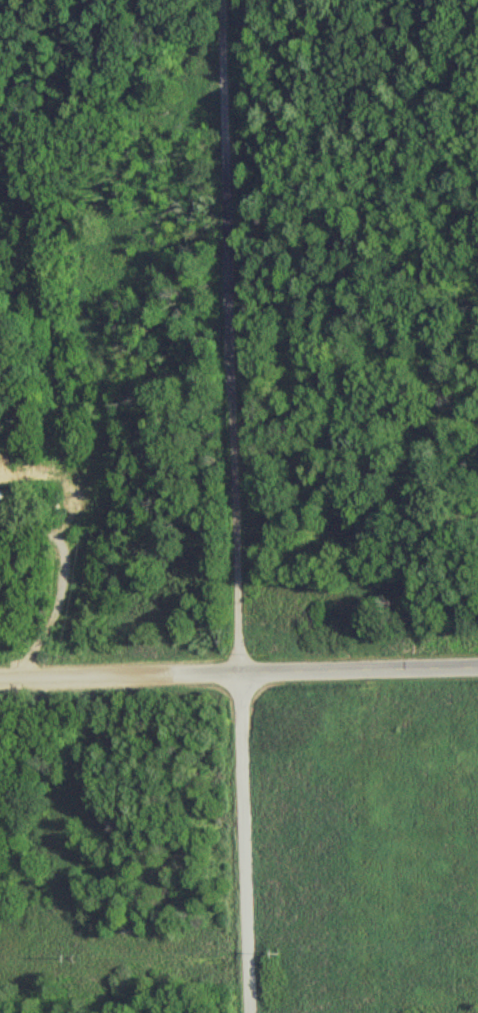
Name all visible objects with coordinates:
road: (224, 338)
road: (356, 672)
road: (117, 679)
road: (238, 845)

